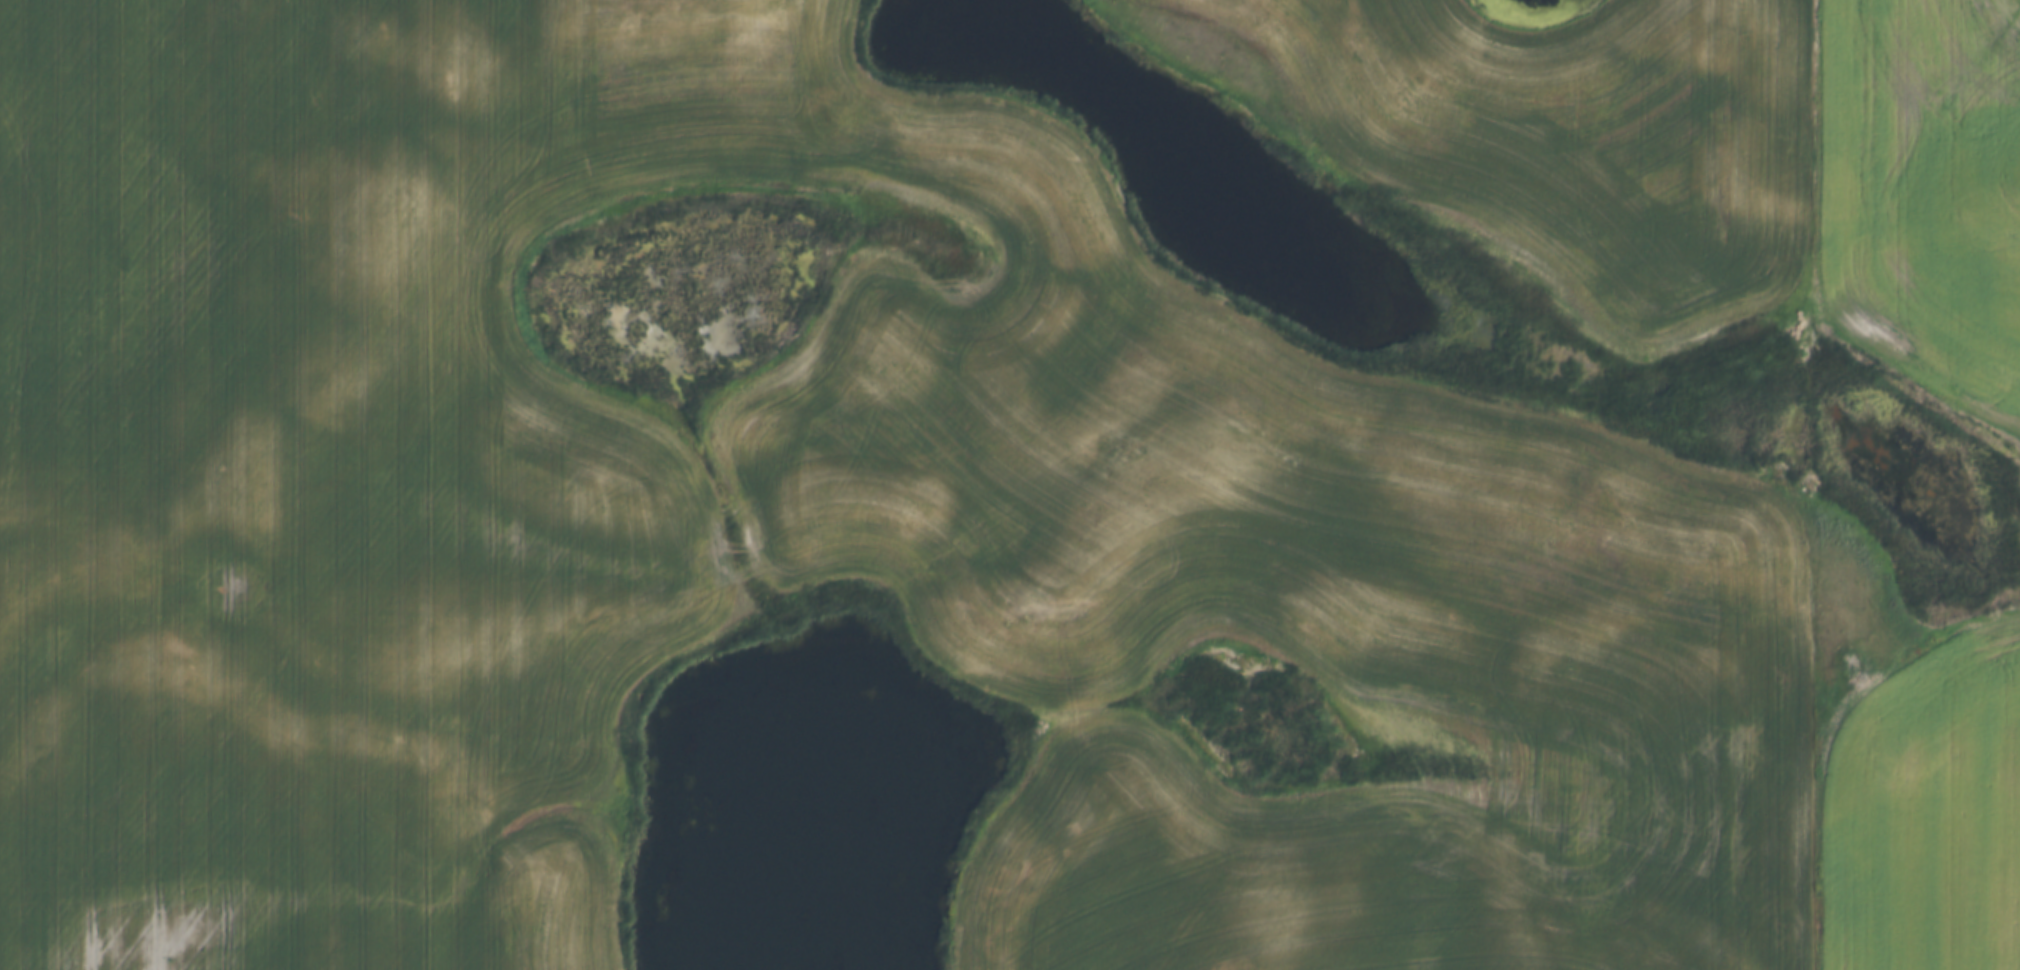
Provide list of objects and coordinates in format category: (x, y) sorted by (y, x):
road: (1831, 740)

